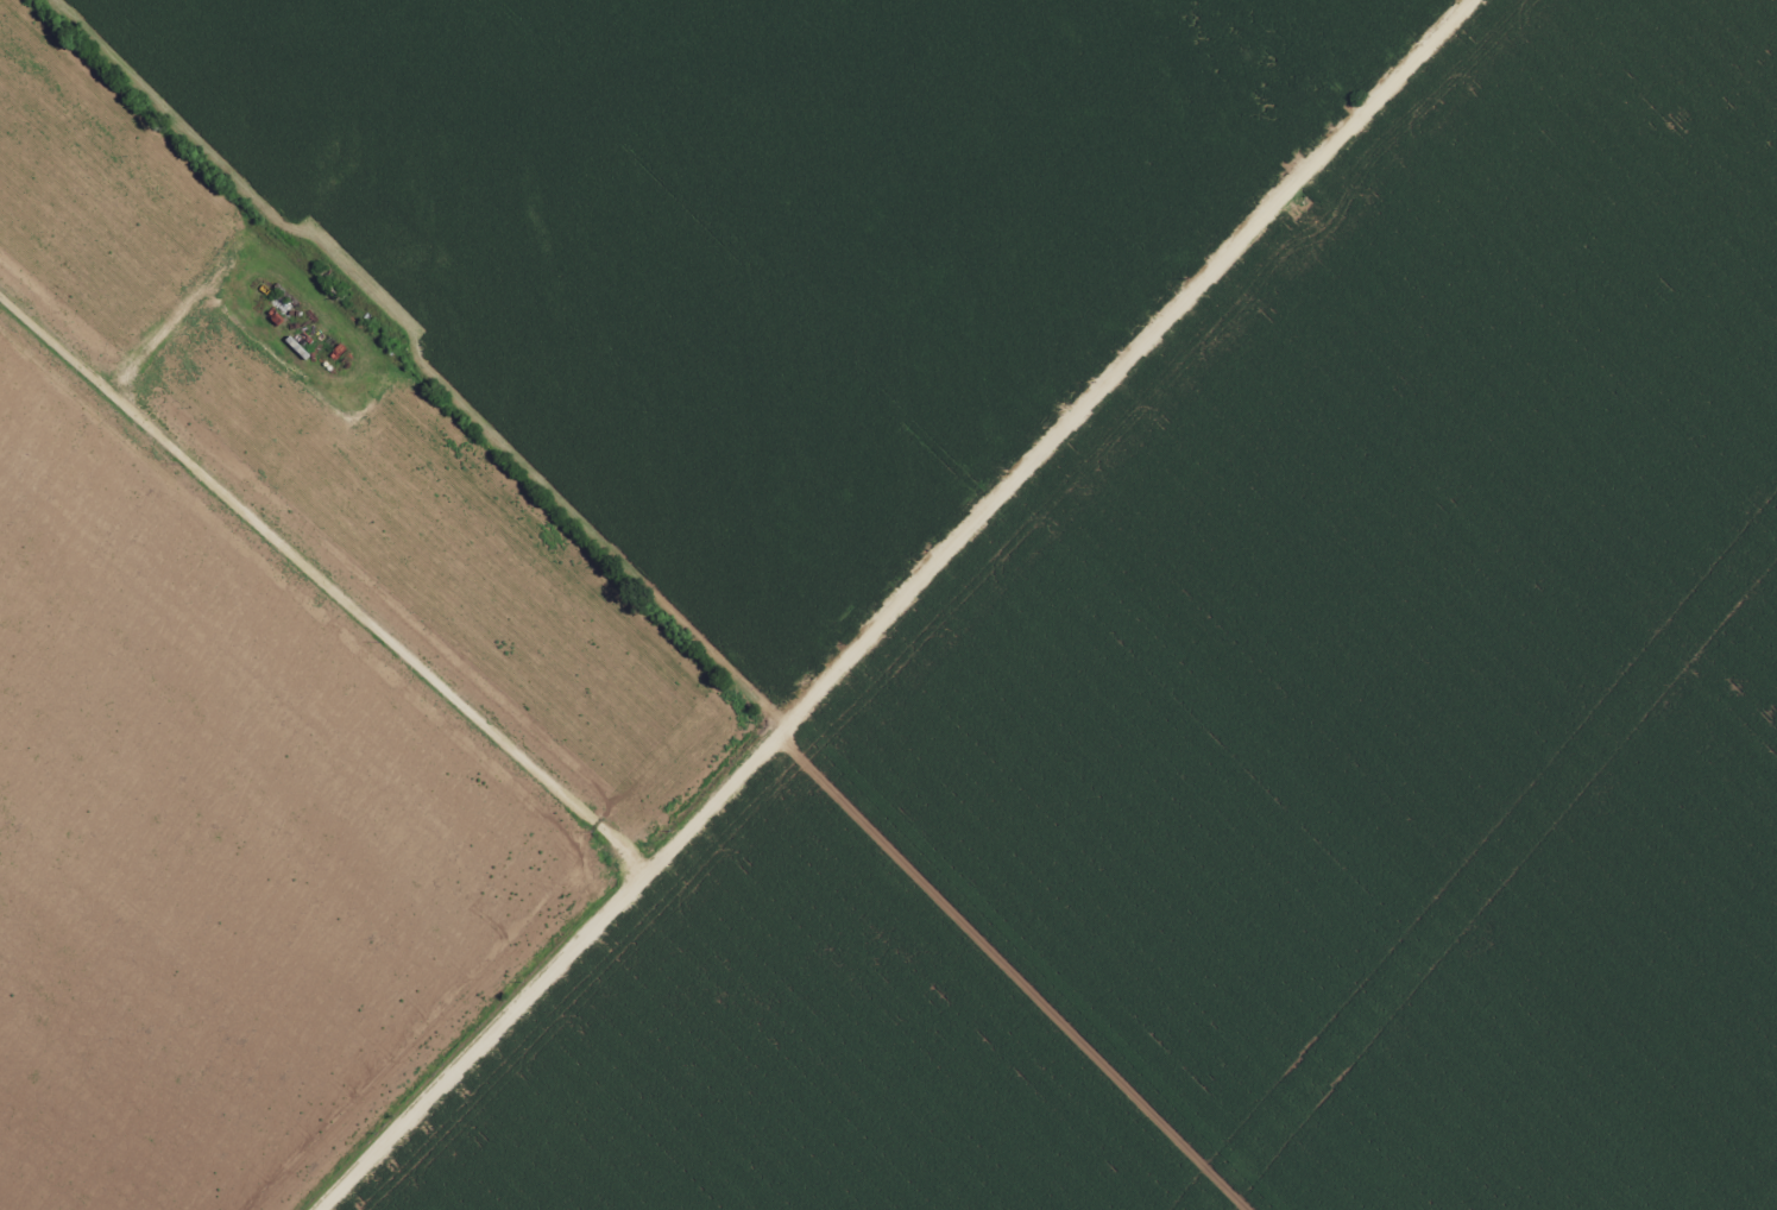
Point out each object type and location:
road: (316, 600)
road: (919, 612)

